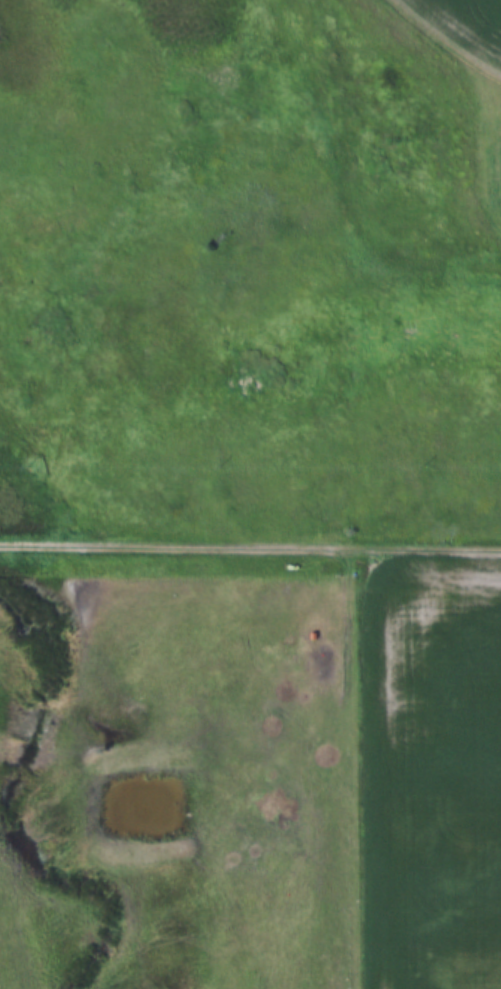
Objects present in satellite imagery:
road: (250, 545)

